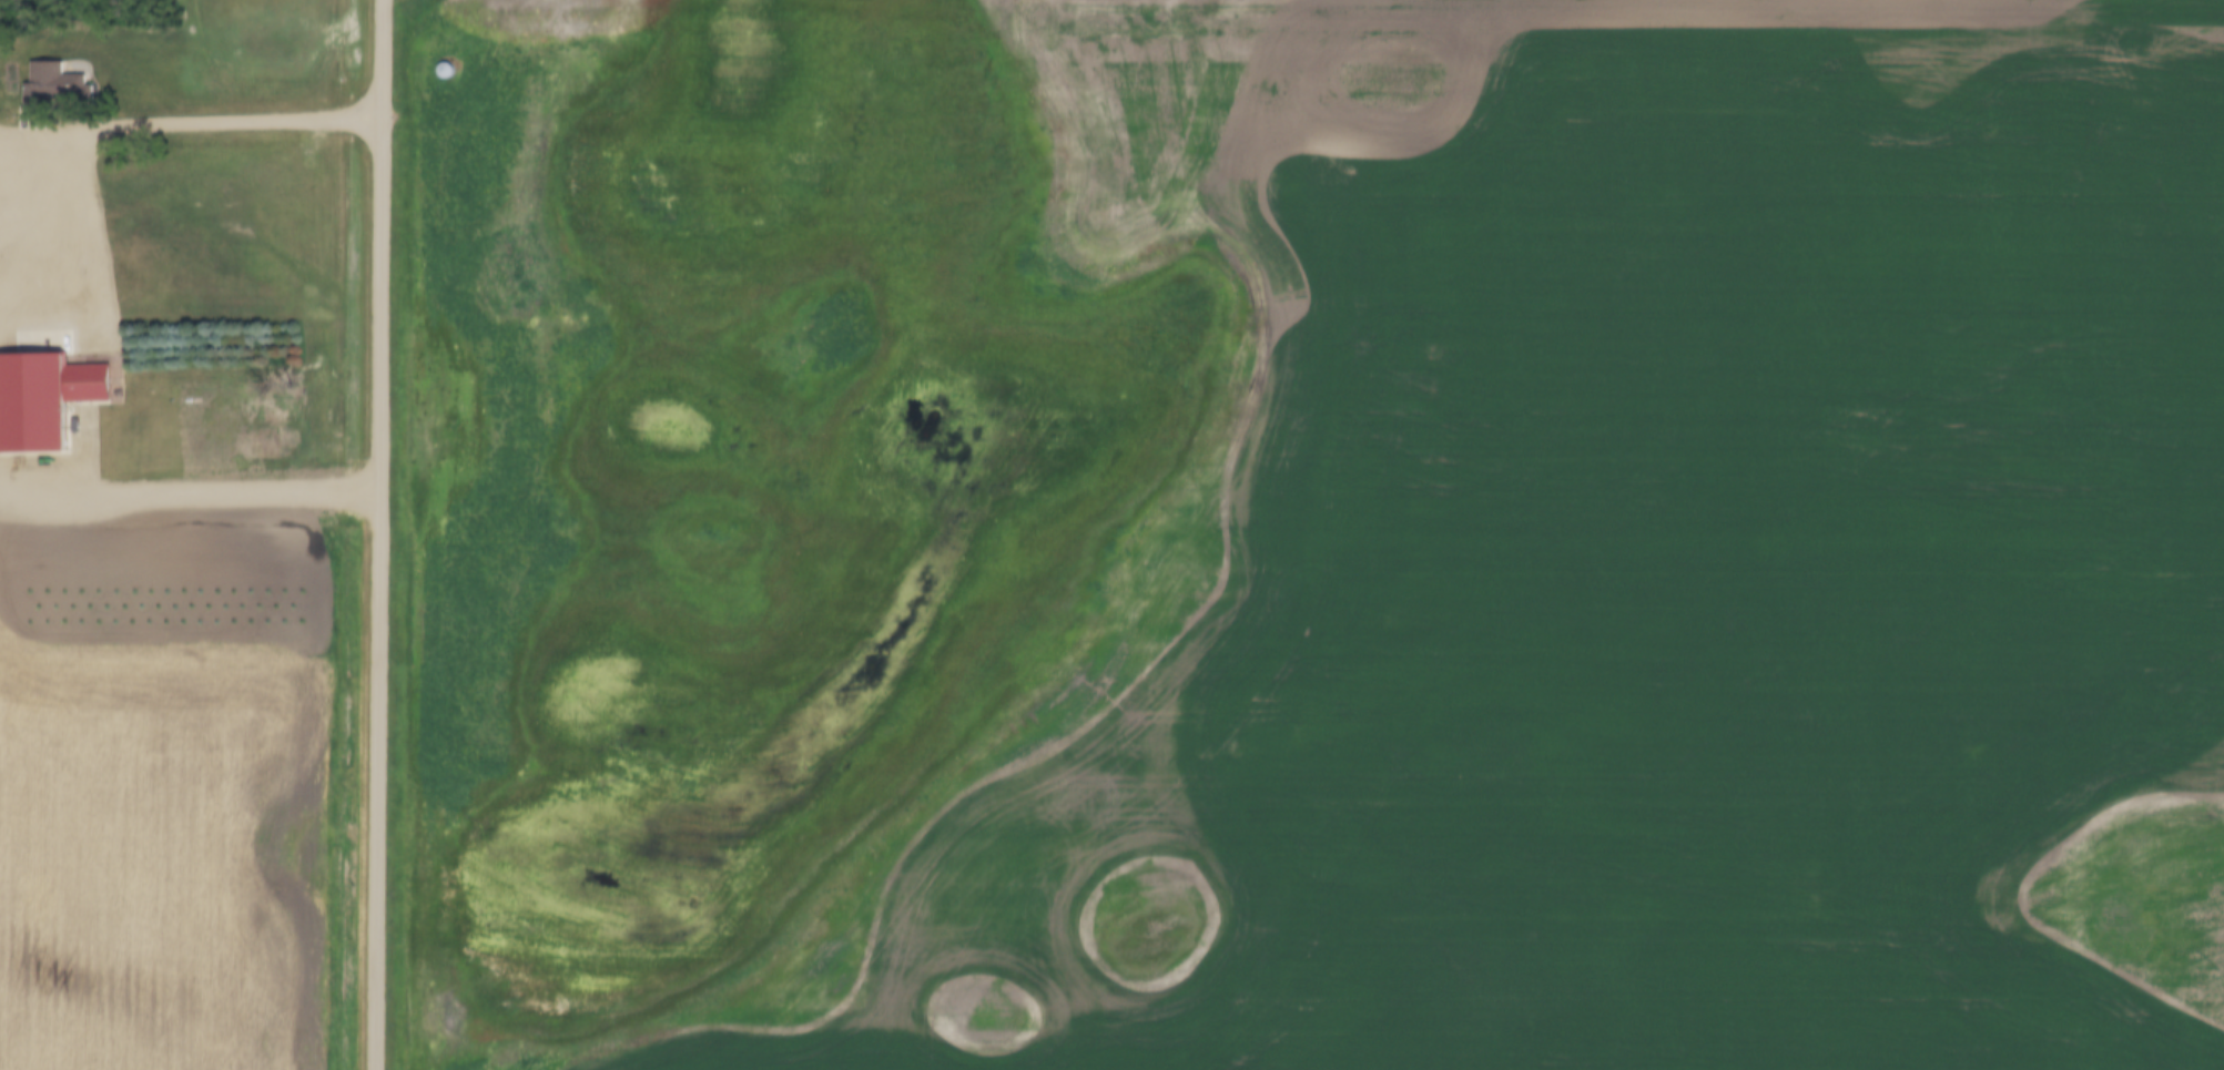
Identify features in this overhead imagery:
building: (52, 88)
road: (191, 130)
road: (33, 233)
road: (192, 490)
road: (385, 534)

